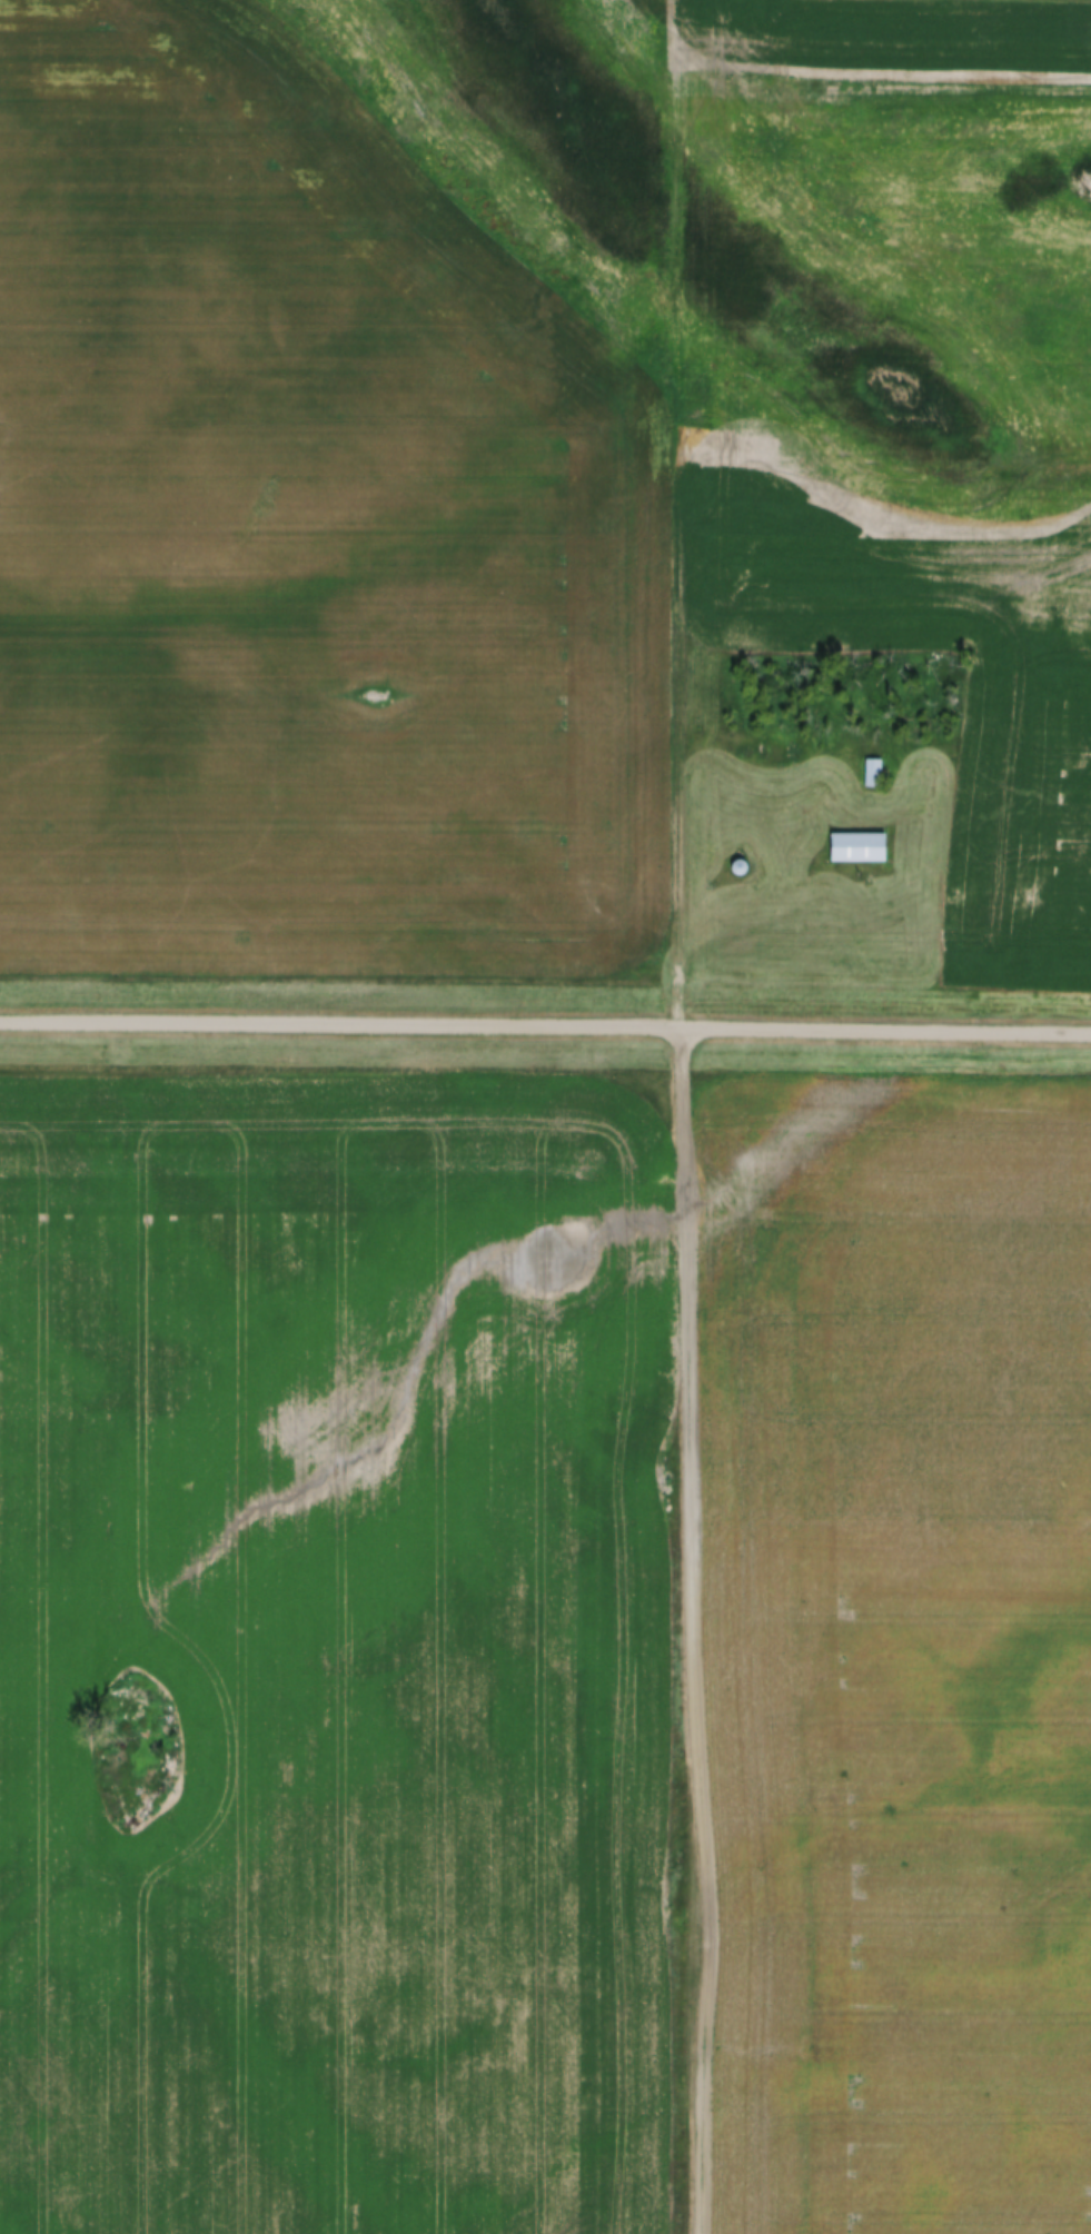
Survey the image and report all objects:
road: (676, 514)
building: (873, 775)
building: (860, 850)
building: (741, 871)
road: (545, 1025)
road: (691, 1630)

